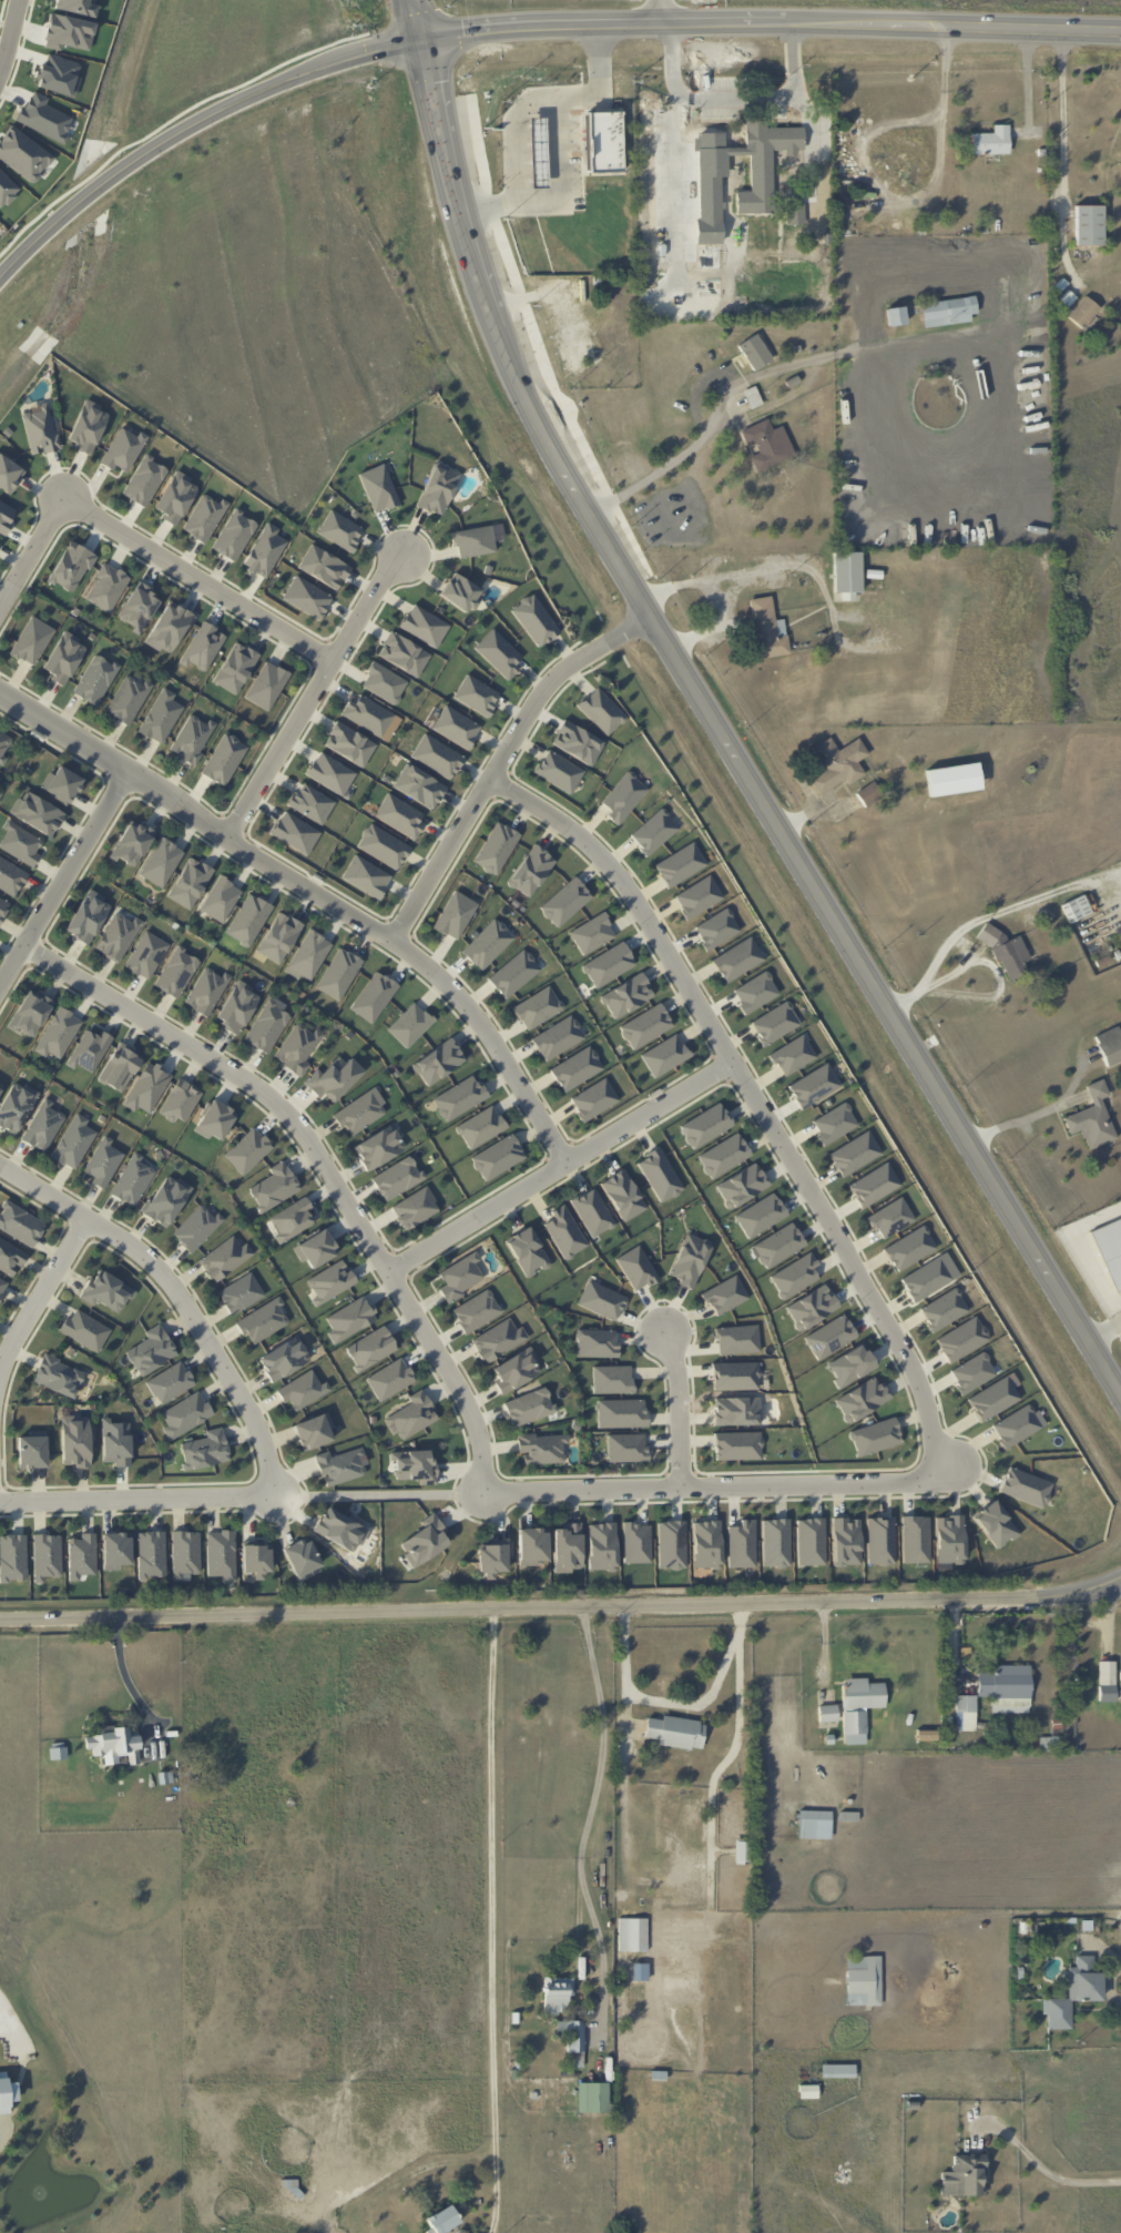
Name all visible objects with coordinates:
road: (661, 11)
road: (4, 19)
road: (770, 24)
traffic signals: (419, 35)
road: (1029, 80)
parking lot: (740, 98)
road: (733, 99)
road: (435, 106)
road: (554, 113)
road: (816, 115)
road: (192, 125)
building: (1120, 131)
road: (512, 132)
parking lot: (816, 133)
building: (604, 141)
building: (990, 141)
building: (537, 152)
gas station: (537, 152)
road: (1063, 156)
building: (764, 162)
building: (7, 189)
road: (486, 205)
building: (794, 212)
building: (1088, 224)
building: (826, 238)
building: (948, 311)
building: (1082, 312)
building: (895, 315)
building: (754, 352)
road: (765, 372)
building: (86, 426)
building: (39, 430)
building: (767, 444)
building: (122, 449)
building: (9, 474)
building: (144, 480)
building: (378, 488)
building: (437, 489)
building: (175, 497)
building: (6, 516)
building: (204, 517)
building: (339, 530)
building: (234, 535)
building: (0, 540)
building: (473, 541)
road: (30, 545)
building: (264, 550)
building: (71, 567)
building: (323, 567)
building: (846, 575)
road: (196, 576)
building: (106, 587)
building: (460, 592)
building: (306, 597)
building: (137, 607)
building: (534, 620)
building: (424, 626)
building: (169, 627)
building: (766, 629)
building: (31, 640)
building: (203, 647)
building: (402, 653)
building: (498, 653)
building: (63, 658)
building: (235, 668)
building: (95, 679)
building: (384, 682)
building: (266, 686)
road: (312, 691)
building: (476, 694)
building: (128, 699)
building: (601, 711)
building: (368, 714)
building: (161, 717)
building: (456, 727)
building: (192, 738)
building: (577, 742)
building: (4, 743)
building: (349, 743)
road: (500, 754)
building: (437, 757)
building: (224, 759)
building: (838, 763)
building: (558, 771)
building: (330, 773)
building: (952, 779)
building: (61, 784)
building: (418, 785)
building: (868, 793)
building: (623, 796)
building: (310, 803)
building: (37, 813)
road: (770, 814)
building: (399, 815)
building: (653, 831)
building: (295, 832)
building: (20, 843)
building: (132, 843)
building: (383, 846)
building: (496, 847)
building: (161, 862)
building: (680, 864)
building: (530, 871)
building: (10, 876)
building: (366, 876)
road: (64, 877)
building: (190, 883)
road: (316, 890)
building: (697, 896)
building: (221, 899)
building: (564, 902)
building: (3, 906)
building: (1076, 909)
building: (455, 915)
building: (88, 916)
building: (248, 920)
road: (968, 925)
building: (716, 928)
building: (592, 933)
building: (116, 936)
building: (278, 937)
building: (487, 944)
building: (1007, 953)
building: (146, 955)
building: (308, 955)
building: (737, 958)
building: (608, 964)
building: (176, 972)
building: (513, 973)
building: (338, 974)
building: (206, 991)
building: (755, 992)
building: (626, 995)
building: (374, 996)
building: (236, 1006)
building: (538, 1007)
building: (30, 1013)
building: (775, 1023)
building: (409, 1025)
building: (266, 1026)
building: (645, 1026)
building: (58, 1033)
building: (558, 1037)
building: (1109, 1045)
building: (296, 1048)
building: (89, 1050)
building: (664, 1055)
building: (793, 1055)
building: (438, 1062)
building: (120, 1067)
building: (577, 1068)
building: (333, 1078)
building: (814, 1086)
building: (0, 1088)
building: (147, 1088)
building: (459, 1098)
building: (593, 1099)
building: (180, 1100)
road: (755, 1100)
building: (16, 1106)
building: (360, 1112)
road: (1025, 1118)
building: (1092, 1118)
building: (214, 1119)
building: (834, 1123)
building: (705, 1125)
building: (43, 1126)
building: (480, 1127)
building: (73, 1141)
building: (378, 1147)
building: (247, 1150)
building: (855, 1154)
building: (723, 1155)
building: (497, 1157)
road: (318, 1160)
building: (103, 1161)
road: (557, 1161)
building: (660, 1175)
building: (397, 1178)
building: (132, 1180)
building: (742, 1185)
building: (874, 1185)
building: (274, 1187)
building: (623, 1195)
building: (166, 1200)
building: (415, 1208)
building: (592, 1211)
building: (760, 1215)
building: (890, 1217)
building: (292, 1219)
building: (20, 1224)
building: (196, 1227)
building: (564, 1232)
building: (777, 1245)
building: (909, 1248)
building: (316, 1249)
building: (1109, 1250)
building: (527, 1251)
building: (10, 1257)
building: (224, 1258)
building: (689, 1259)
building: (636, 1268)
building: (459, 1276)
building: (794, 1276)
building: (929, 1277)
building: (329, 1282)
building: (2, 1286)
road: (39, 1290)
building: (106, 1290)
building: (241, 1293)
road: (179, 1295)
building: (725, 1295)
building: (601, 1300)
building: (811, 1307)
building: (944, 1309)
building: (476, 1311)
building: (349, 1319)
building: (263, 1321)
building: (84, 1330)
road: (1104, 1331)
building: (829, 1337)
building: (737, 1339)
building: (961, 1339)
building: (498, 1340)
building: (595, 1343)
building: (370, 1348)
building: (151, 1350)
building: (283, 1359)
building: (849, 1366)
building: (516, 1370)
building: (972, 1372)
building: (58, 1376)
building: (735, 1376)
building: (389, 1379)
building: (612, 1379)
building: (170, 1382)
building: (302, 1390)
building: (862, 1399)
building: (993, 1399)
road: (679, 1405)
building: (529, 1407)
building: (736, 1411)
building: (621, 1413)
building: (184, 1414)
building: (411, 1415)
building: (1018, 1425)
building: (313, 1431)
building: (875, 1437)
building: (74, 1441)
building: (115, 1442)
building: (736, 1445)
building: (541, 1448)
building: (625, 1448)
building: (32, 1450)
building: (204, 1450)
building: (340, 1465)
building: (414, 1465)
road: (722, 1484)
building: (1026, 1486)
road: (378, 1493)
road: (136, 1496)
building: (995, 1524)
building: (339, 1530)
building: (915, 1539)
building: (949, 1539)
building: (880, 1540)
building: (424, 1541)
building: (811, 1541)
building: (845, 1541)
building: (636, 1542)
building: (776, 1542)
building: (671, 1544)
building: (706, 1544)
building: (742, 1544)
building: (531, 1545)
building: (601, 1546)
building: (568, 1547)
building: (115, 1550)
building: (151, 1554)
building: (185, 1554)
building: (221, 1554)
building: (81, 1555)
building: (47, 1556)
building: (493, 1556)
building: (12, 1557)
building: (255, 1559)
building: (300, 1559)
road: (561, 1608)
road: (124, 1675)
building: (1105, 1681)
building: (1006, 1687)
building: (1120, 1691)
road: (679, 1703)
building: (858, 1707)
building: (827, 1713)
building: (965, 1713)
building: (675, 1732)
building: (925, 1734)
building: (114, 1746)
road: (583, 1817)
building: (814, 1824)
road: (1040, 1911)
road: (491, 1921)
building: (632, 1933)
road: (1114, 1956)
building: (863, 1980)
building: (1073, 1992)
building: (557, 1993)
building: (571, 2034)
building: (837, 2070)
building: (12, 2091)
helipad: (337, 2092)
building: (3, 2094)
building: (592, 2097)
building: (964, 2175)
road: (1054, 2176)
building: (441, 2220)

